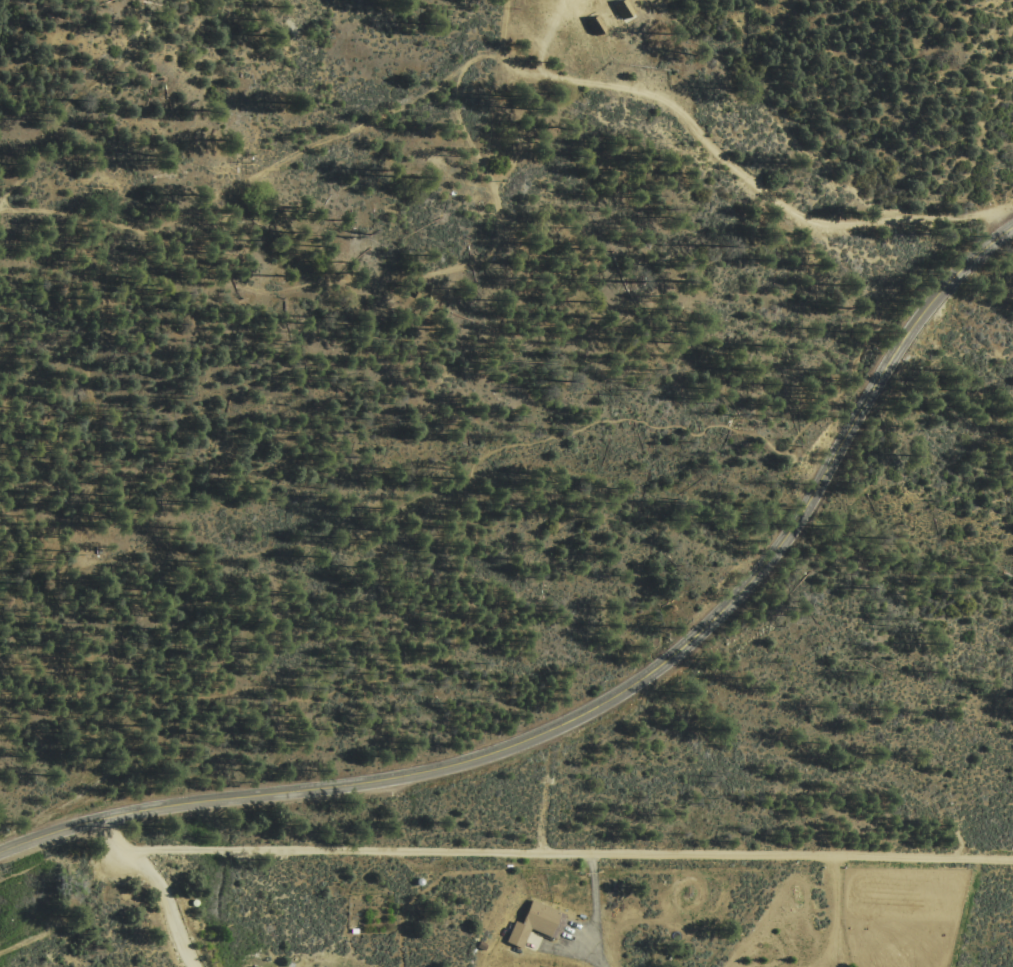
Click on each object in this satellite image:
building: (623, 7)
road: (723, 155)
road: (242, 184)
road: (437, 274)
road: (417, 497)
road: (607, 700)
road: (573, 853)
road: (158, 885)
road: (76, 894)
road: (597, 911)
road: (838, 911)
building: (536, 924)
road: (827, 960)

